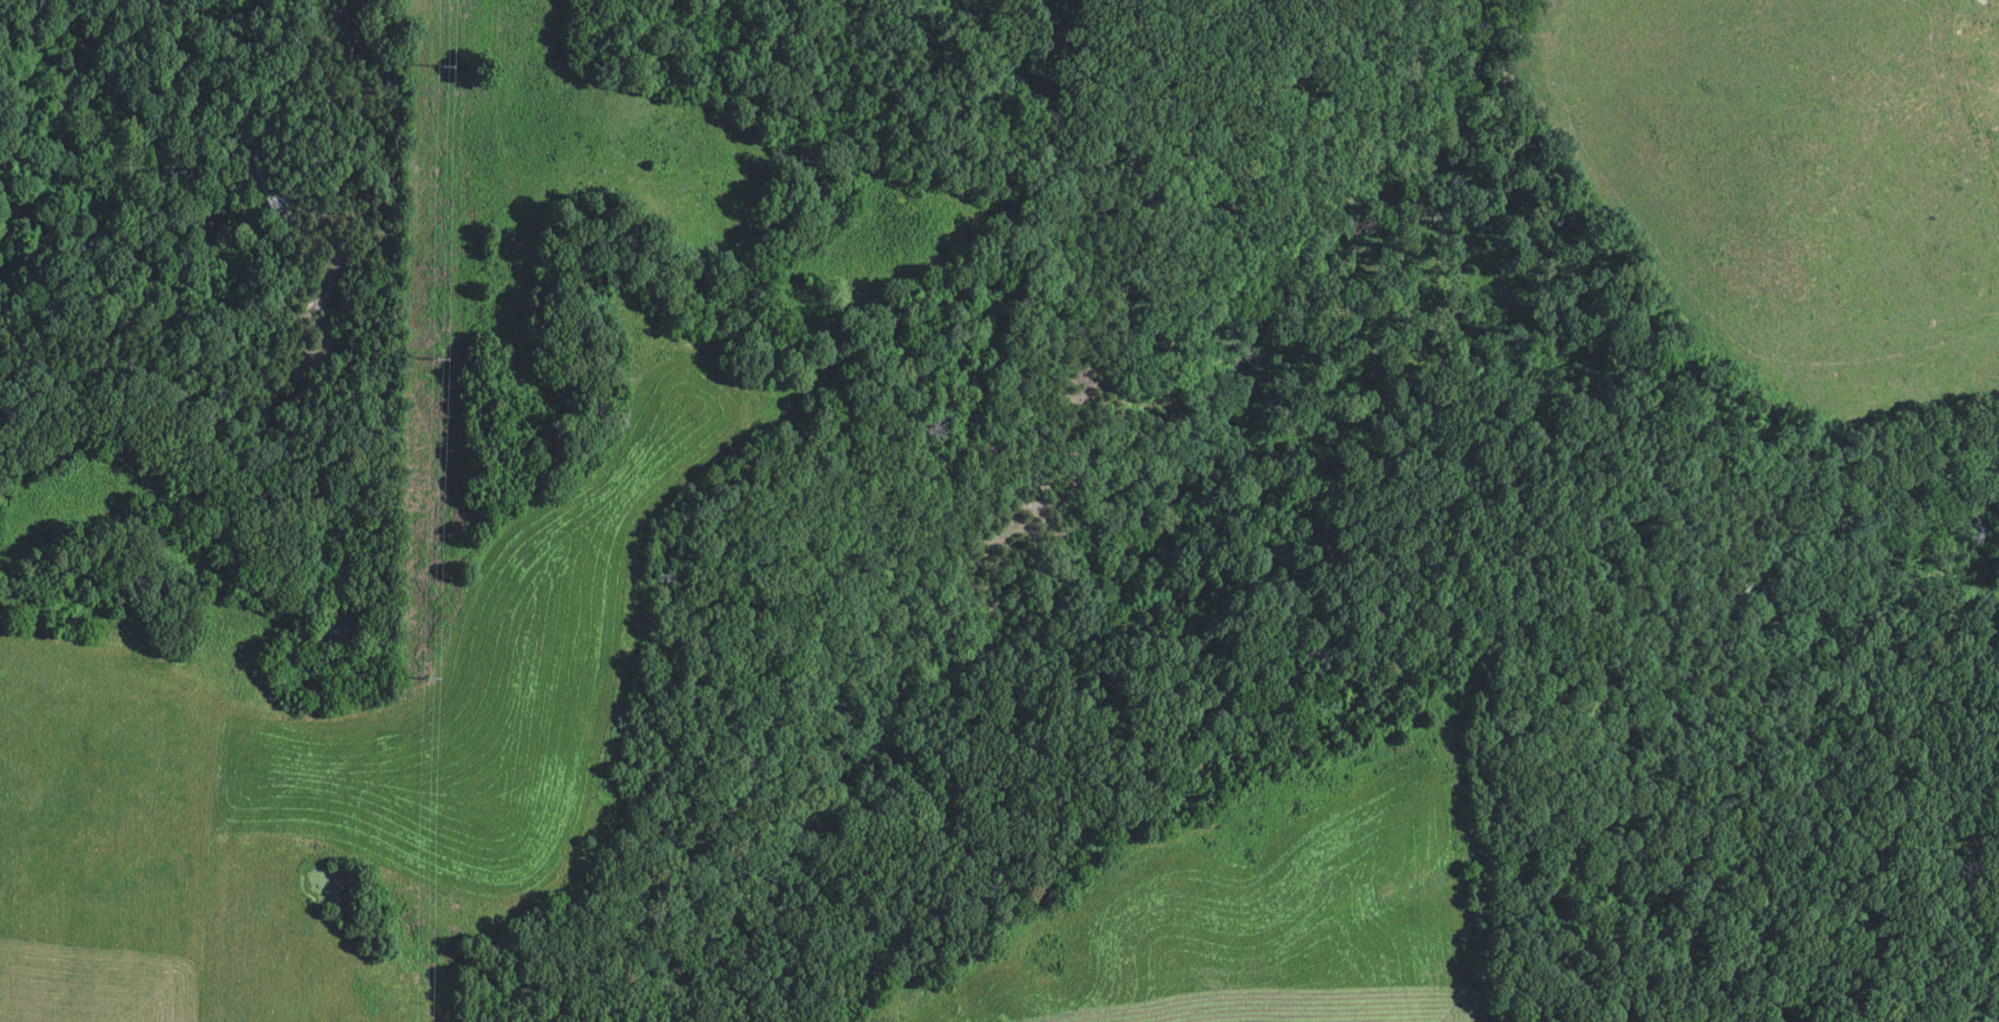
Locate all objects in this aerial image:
power tower: (441, 64)
power tower: (432, 356)
power tower: (424, 679)

